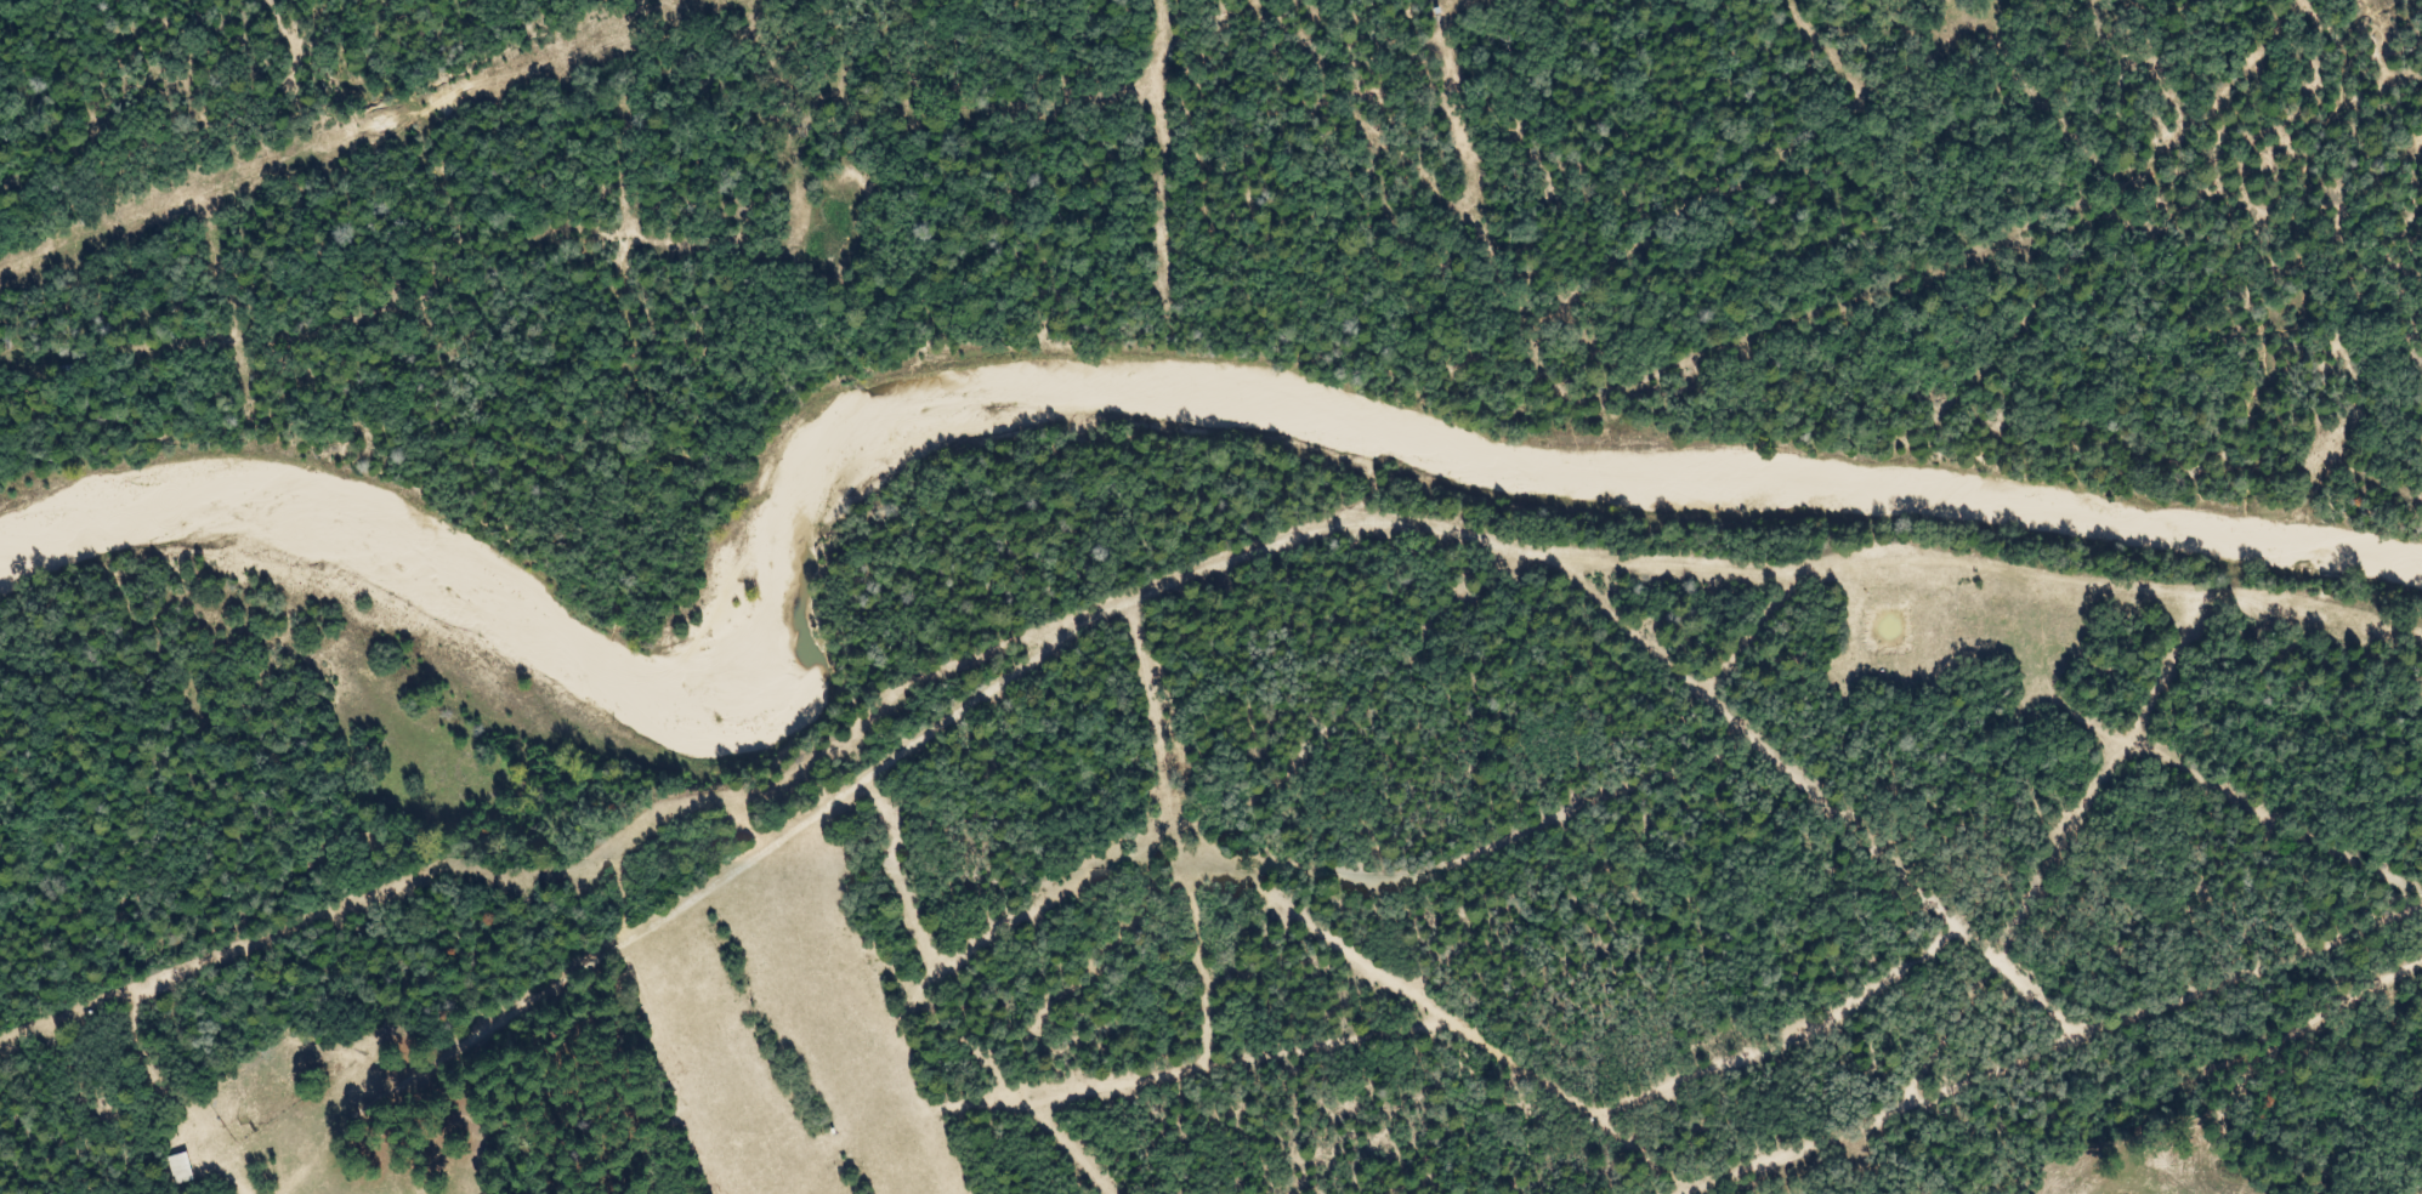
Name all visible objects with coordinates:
road: (2019, 887)
building: (183, 1167)
road: (299, 1182)

